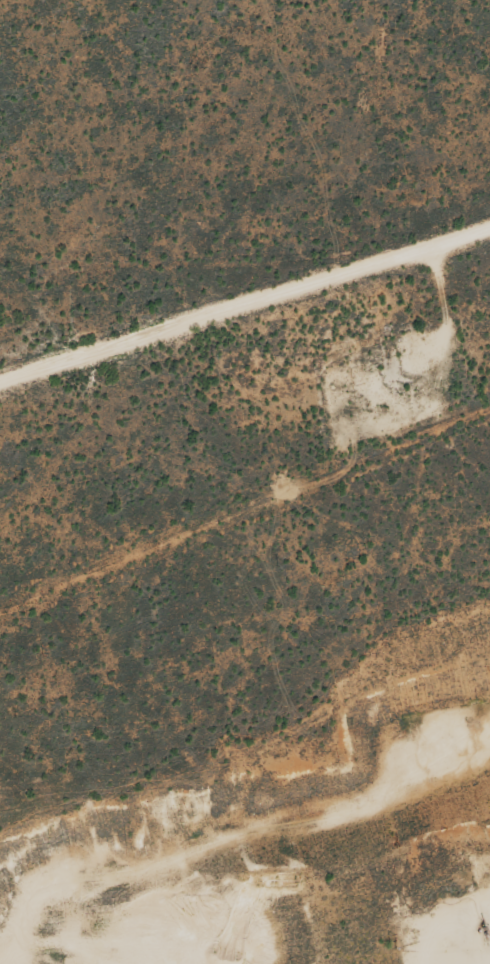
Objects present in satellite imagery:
road: (245, 314)

